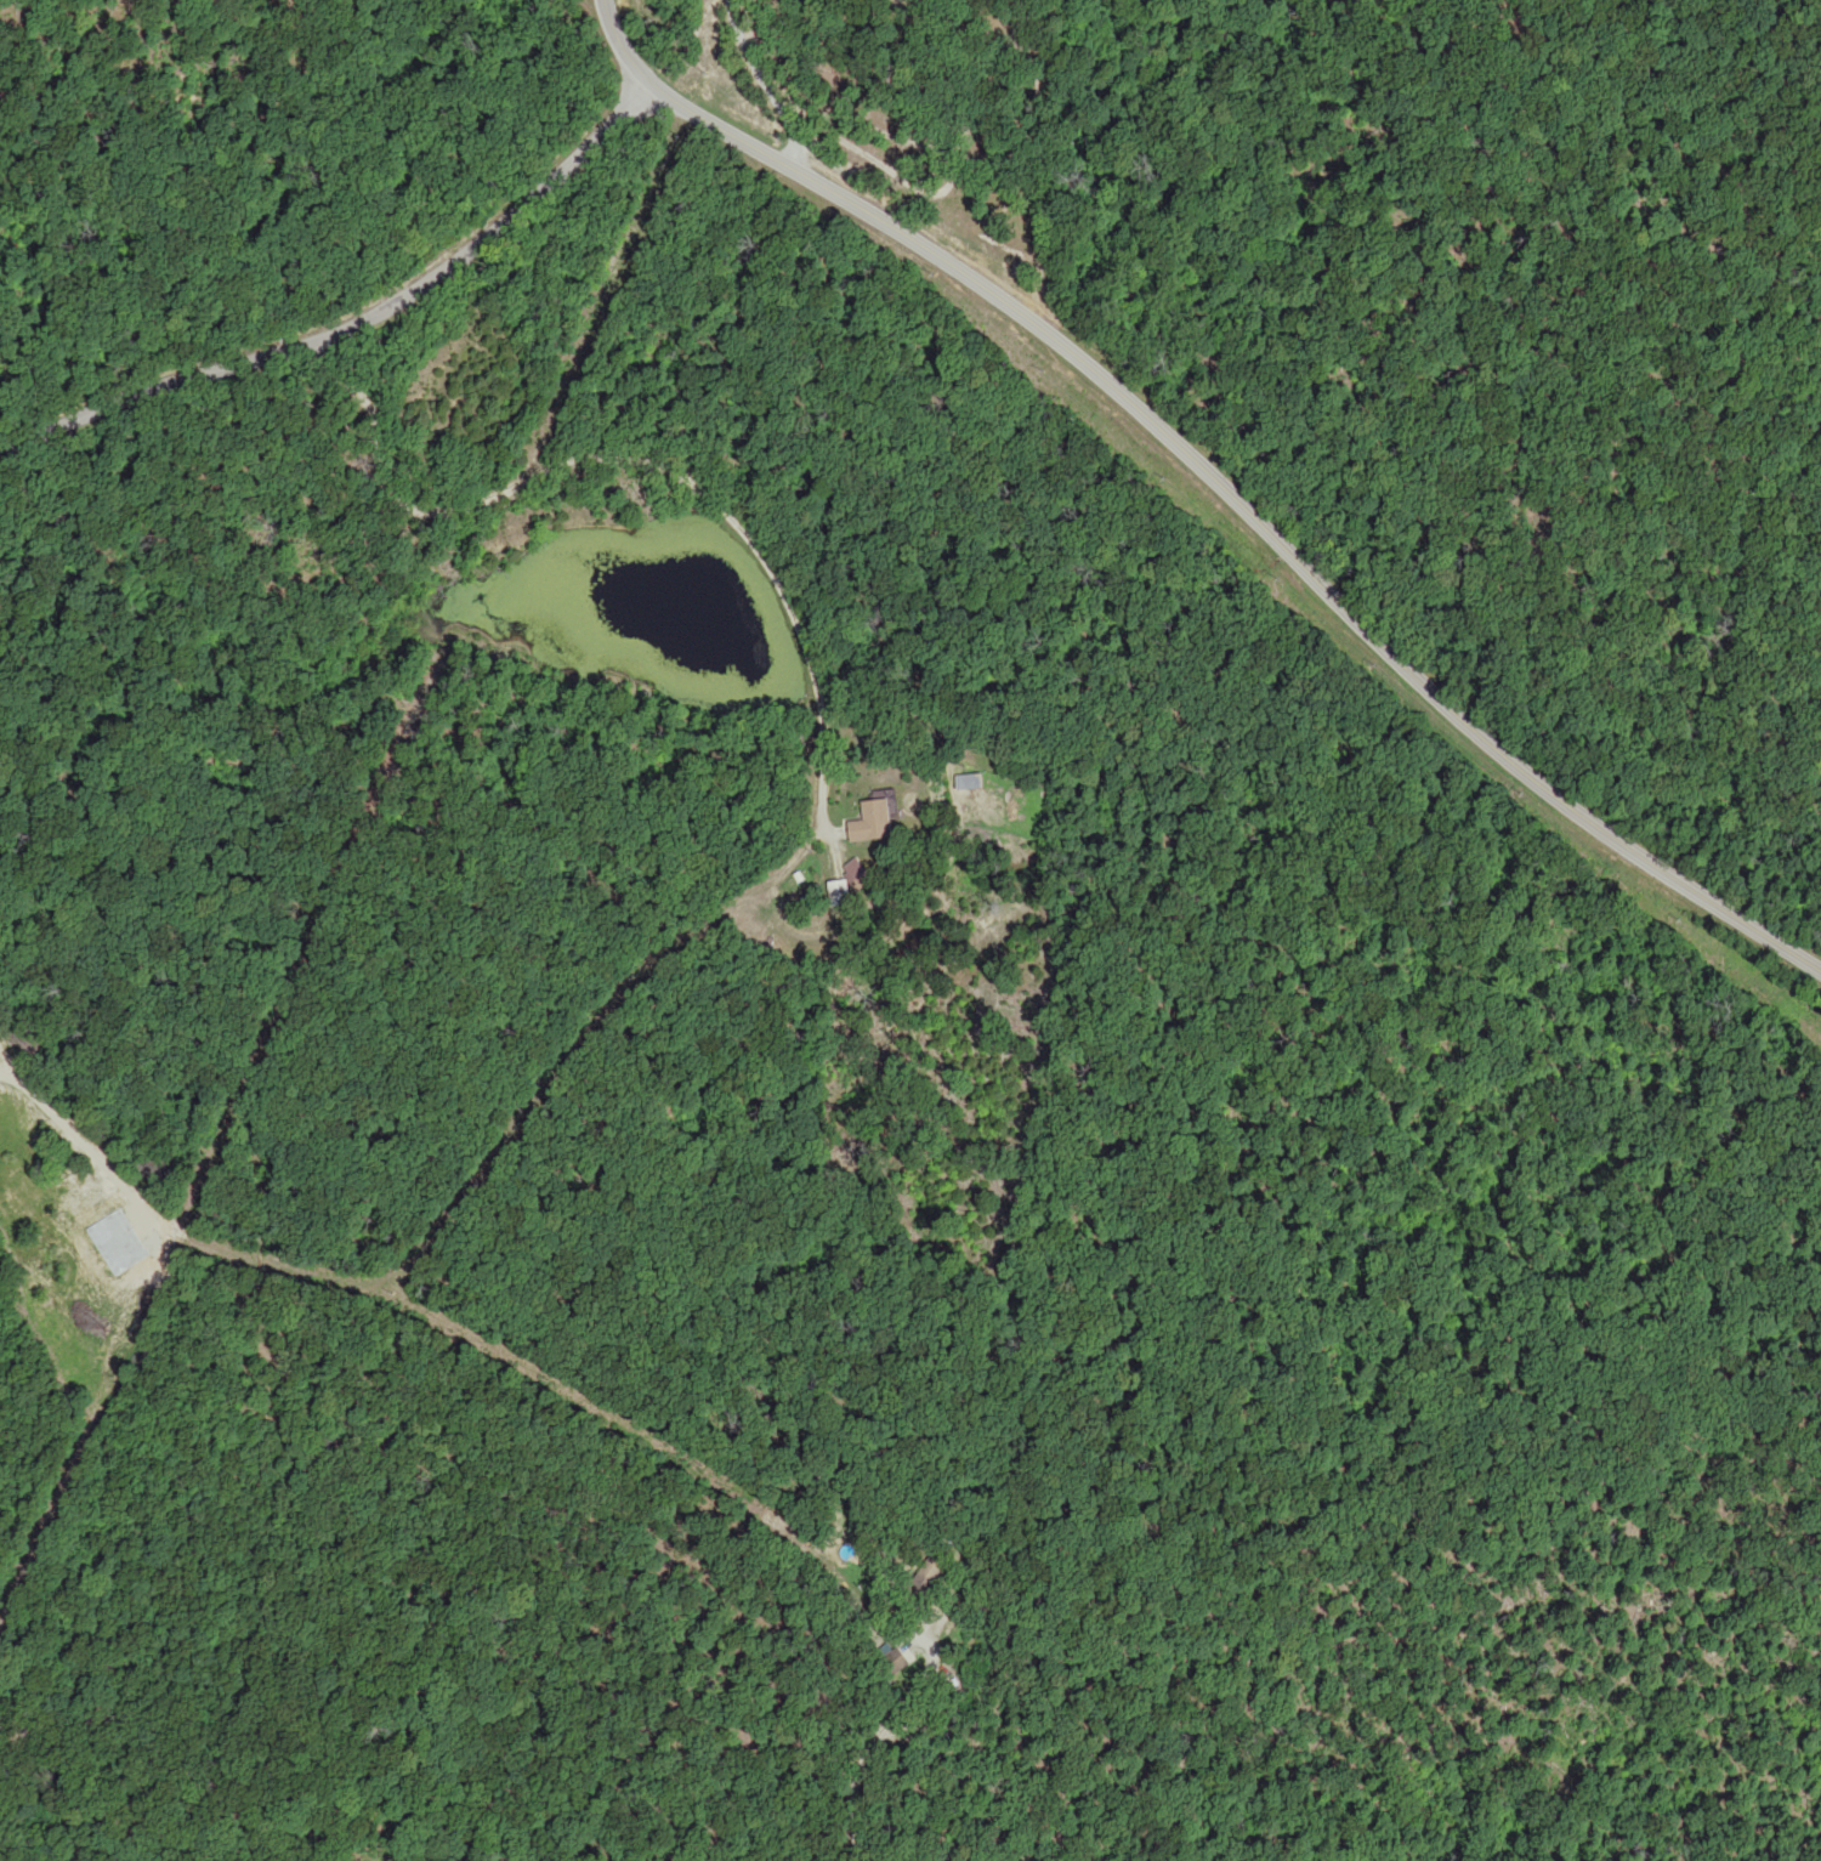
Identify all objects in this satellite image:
road: (356, 322)
road: (592, 472)
road: (1213, 475)
building: (974, 784)
building: (877, 821)
building: (841, 892)
park: (1460, 935)
building: (896, 1657)
road: (758, 1800)

